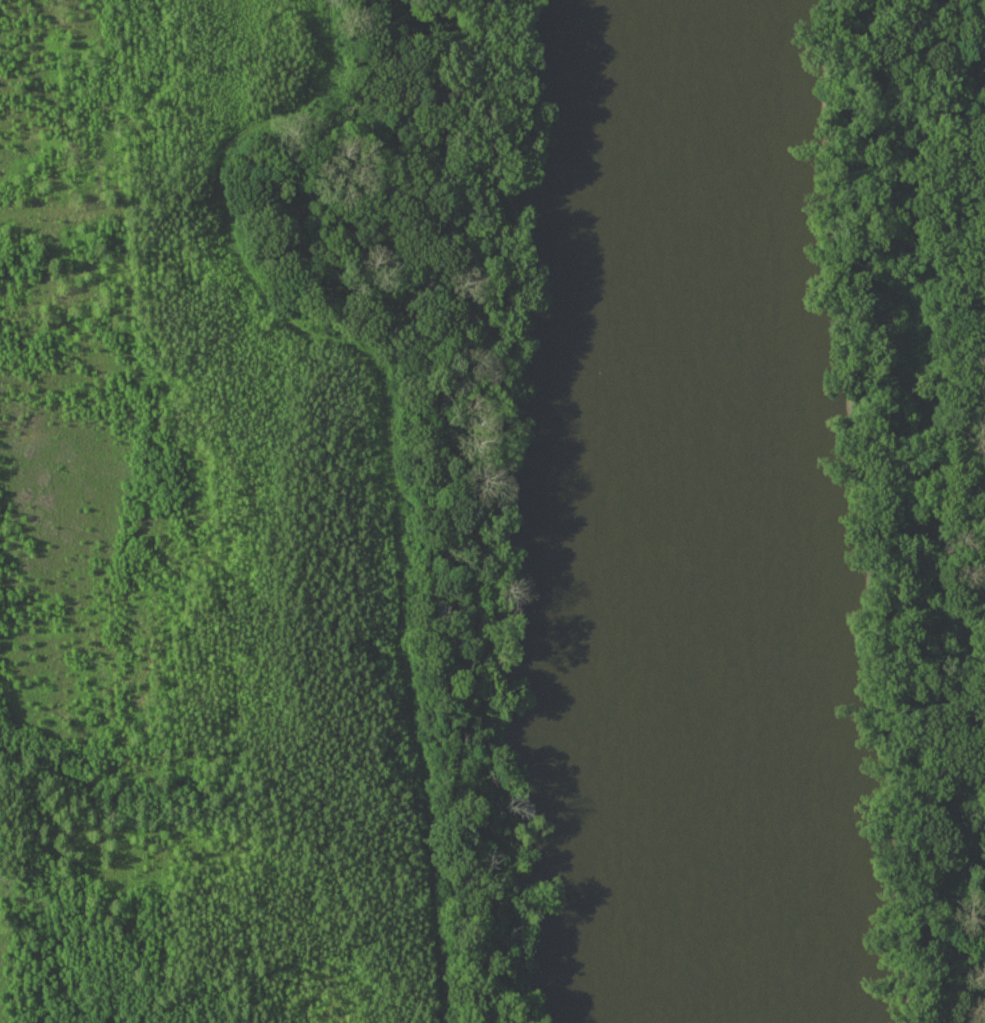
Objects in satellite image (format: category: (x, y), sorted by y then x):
river: (697, 511)

